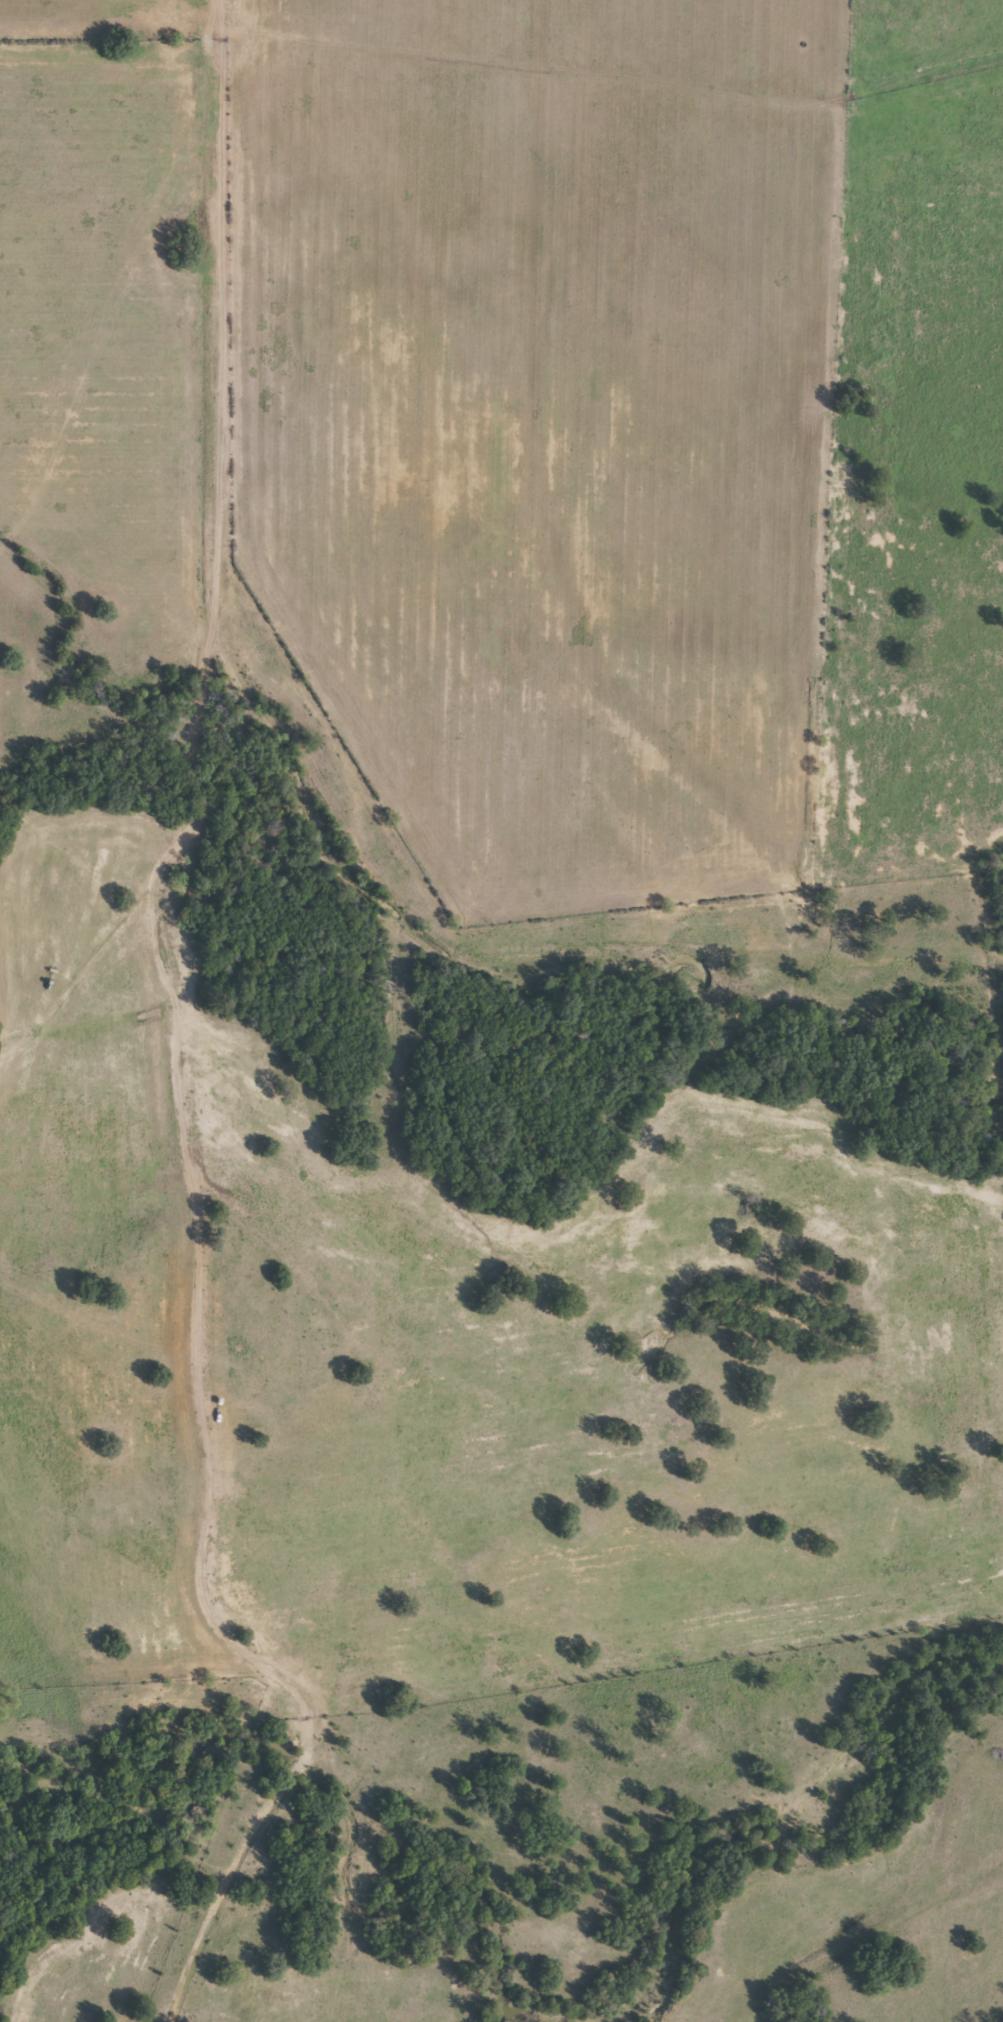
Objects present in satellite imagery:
road: (194, 1024)
road: (103, 1597)

